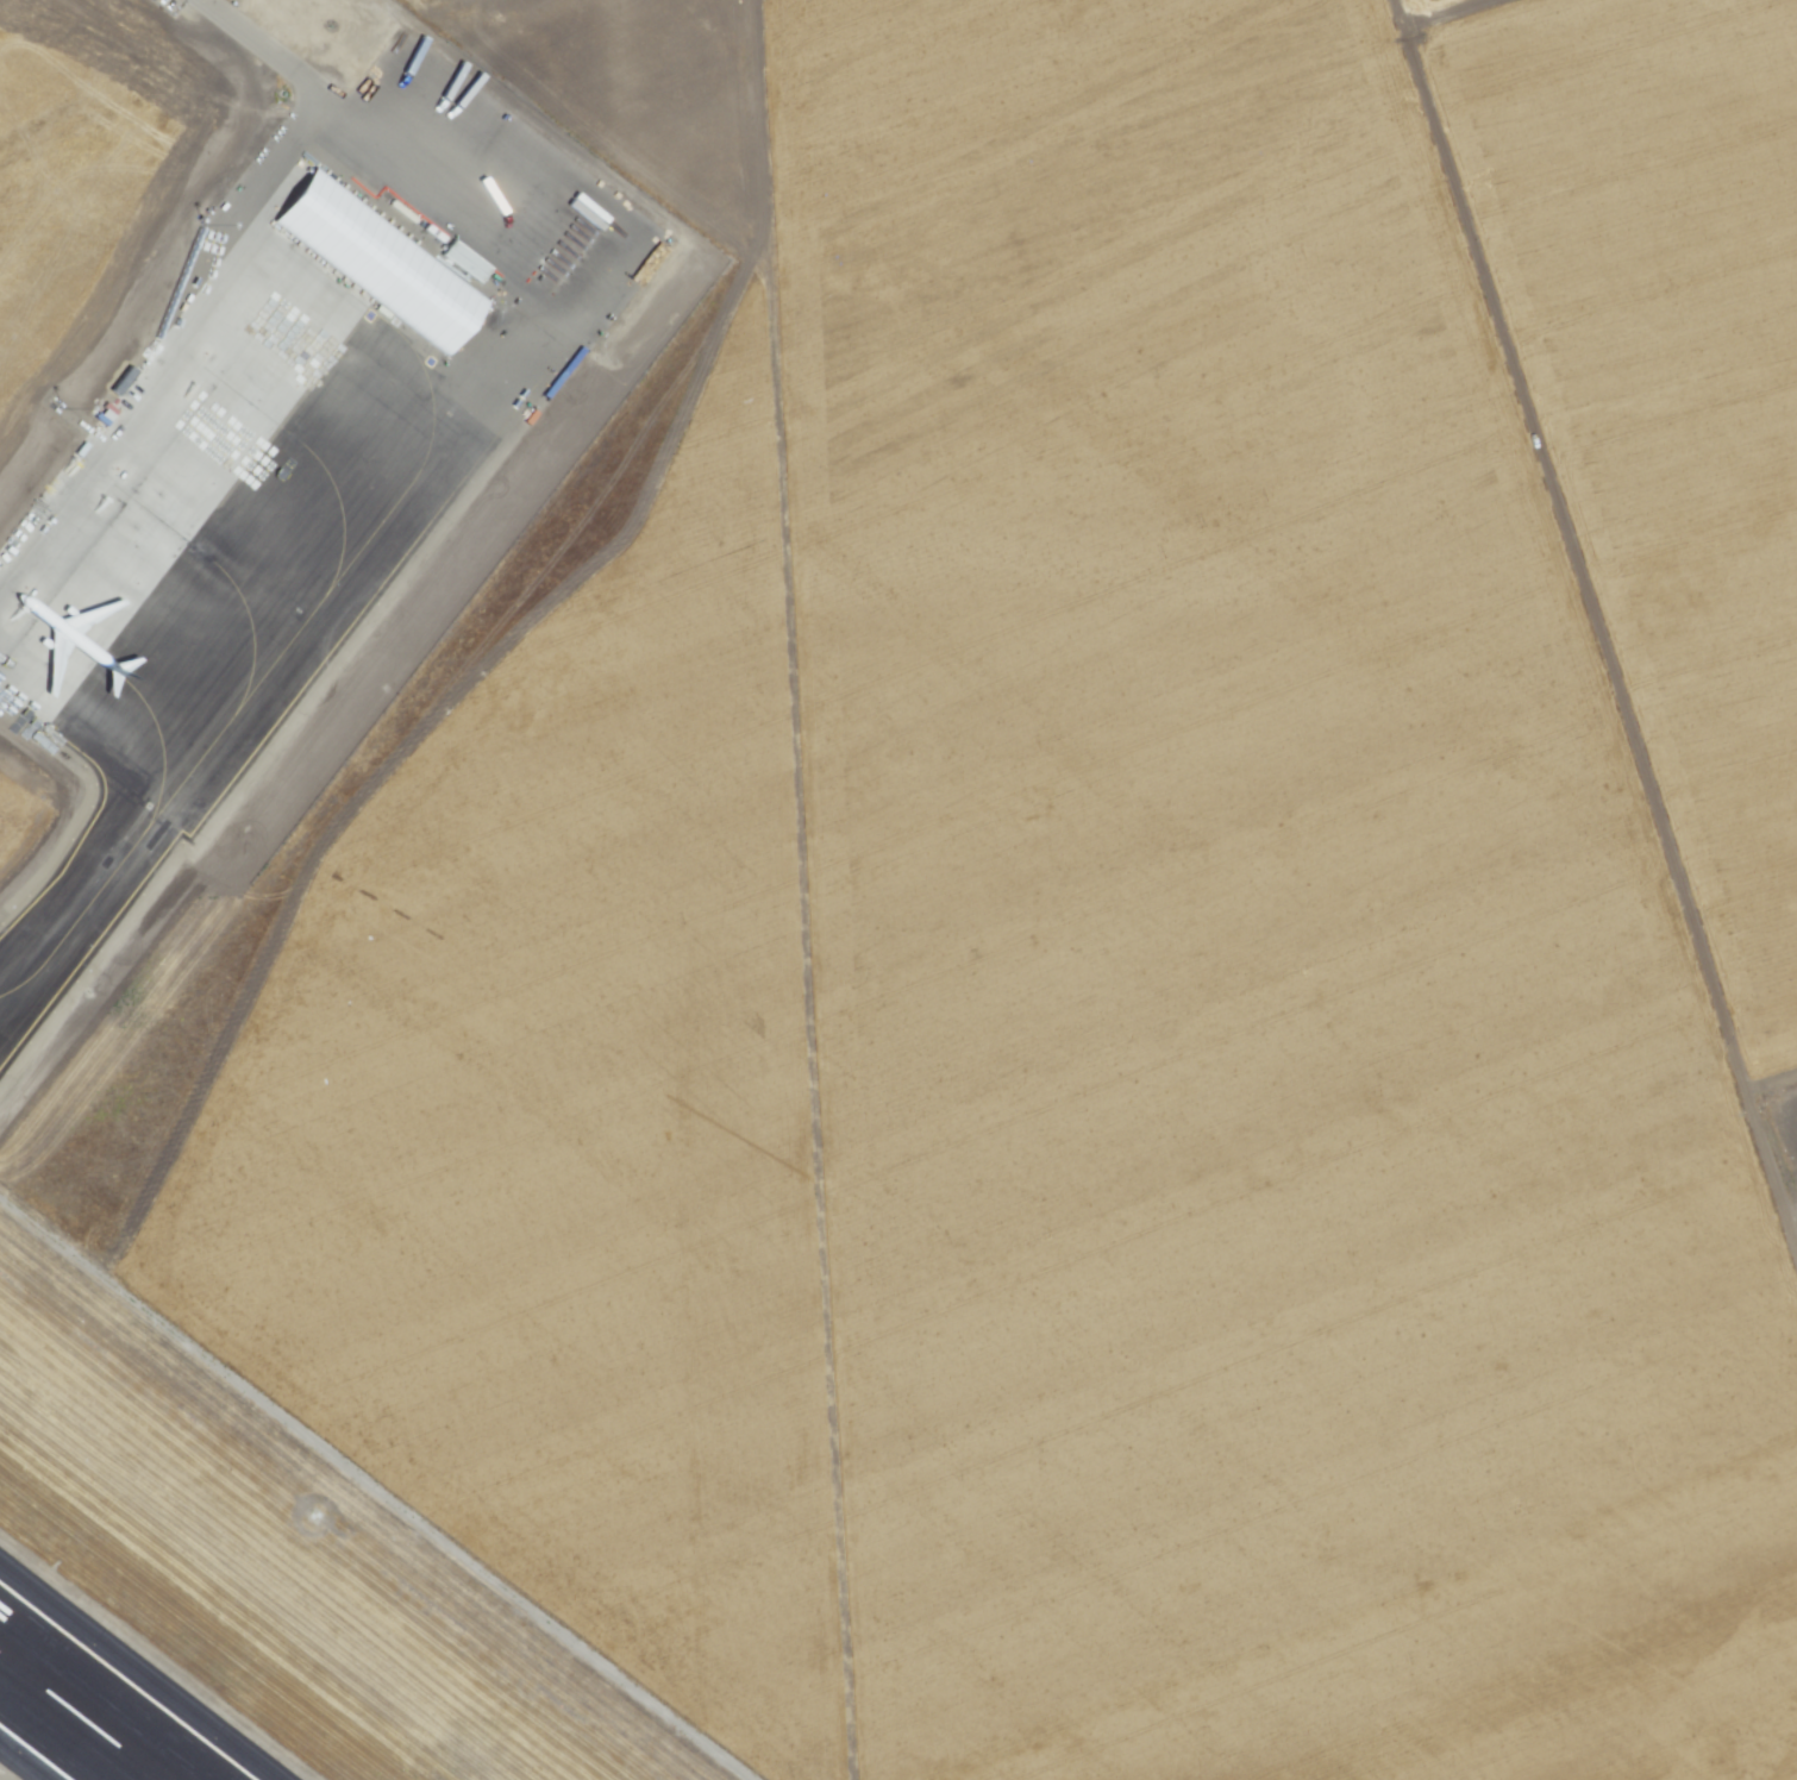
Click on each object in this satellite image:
building: (377, 261)
building: (463, 261)
airport taxiway: (312, 455)
airport: (206, 465)
airport apron: (250, 493)
airport taxiway: (224, 574)
airport taxiway: (300, 625)
airport taxiway: (133, 690)
crop: (1047, 949)
airport: (163, 1634)
airport runway: (80, 1717)

